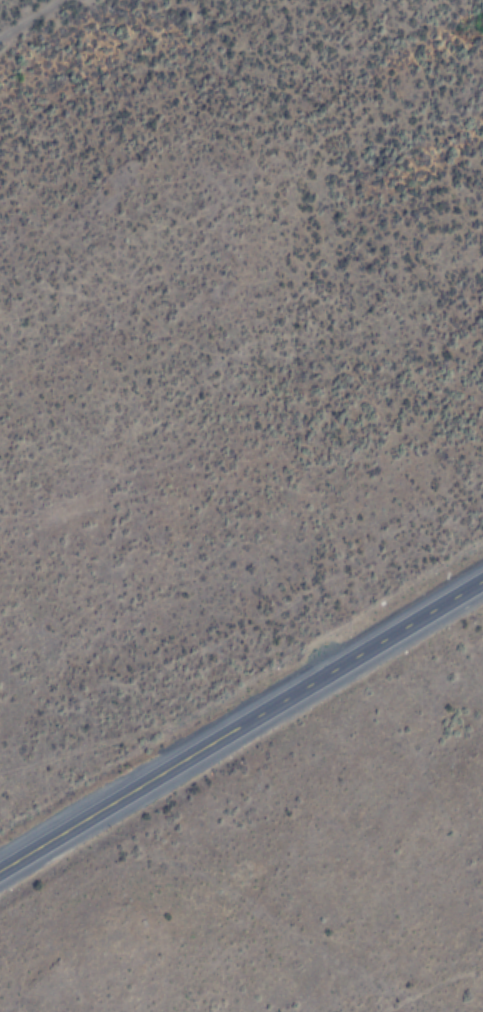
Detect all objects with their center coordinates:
road: (29, 17)
road: (241, 722)

